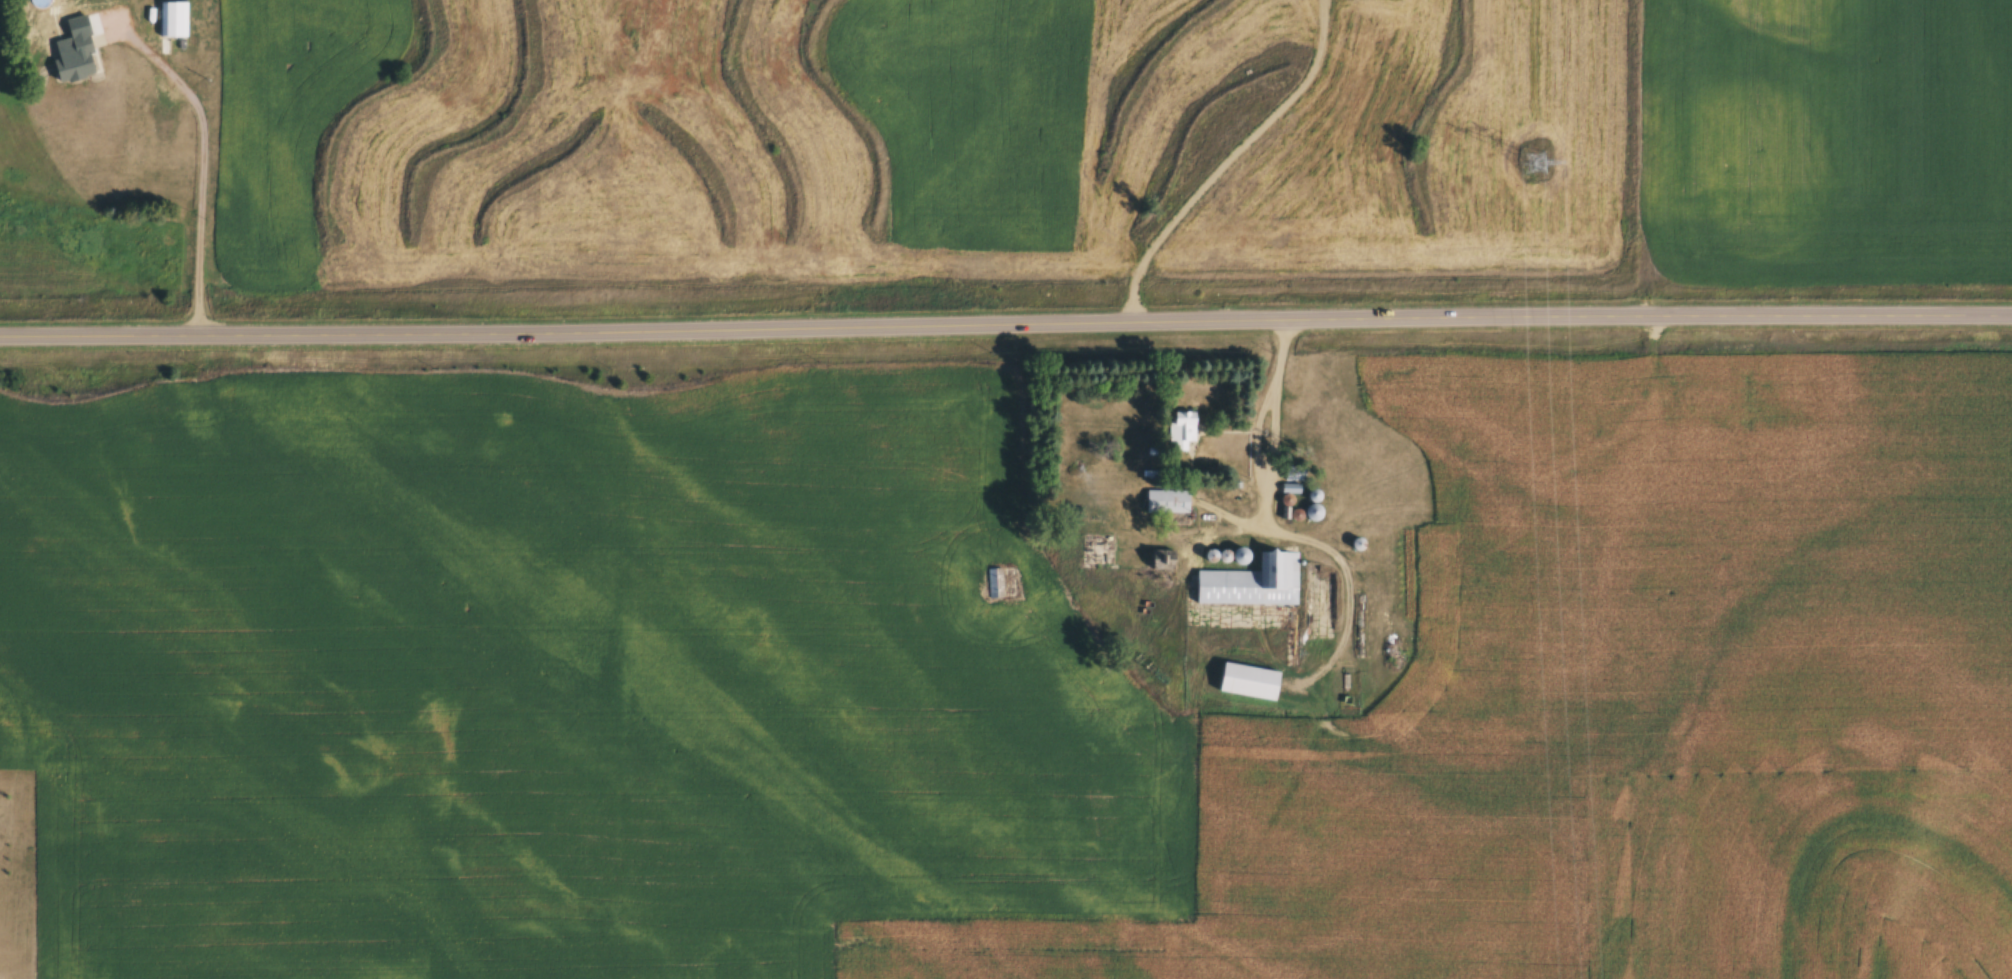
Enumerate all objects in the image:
building: (173, 19)
building: (80, 60)
building: (167, 125)
crop: (1113, 145)
road: (199, 161)
power tower: (1532, 164)
crop: (70, 228)
road: (1005, 331)
building: (1184, 429)
road: (1256, 435)
building: (1169, 501)
building: (1167, 560)
building: (995, 582)
building: (1255, 582)

